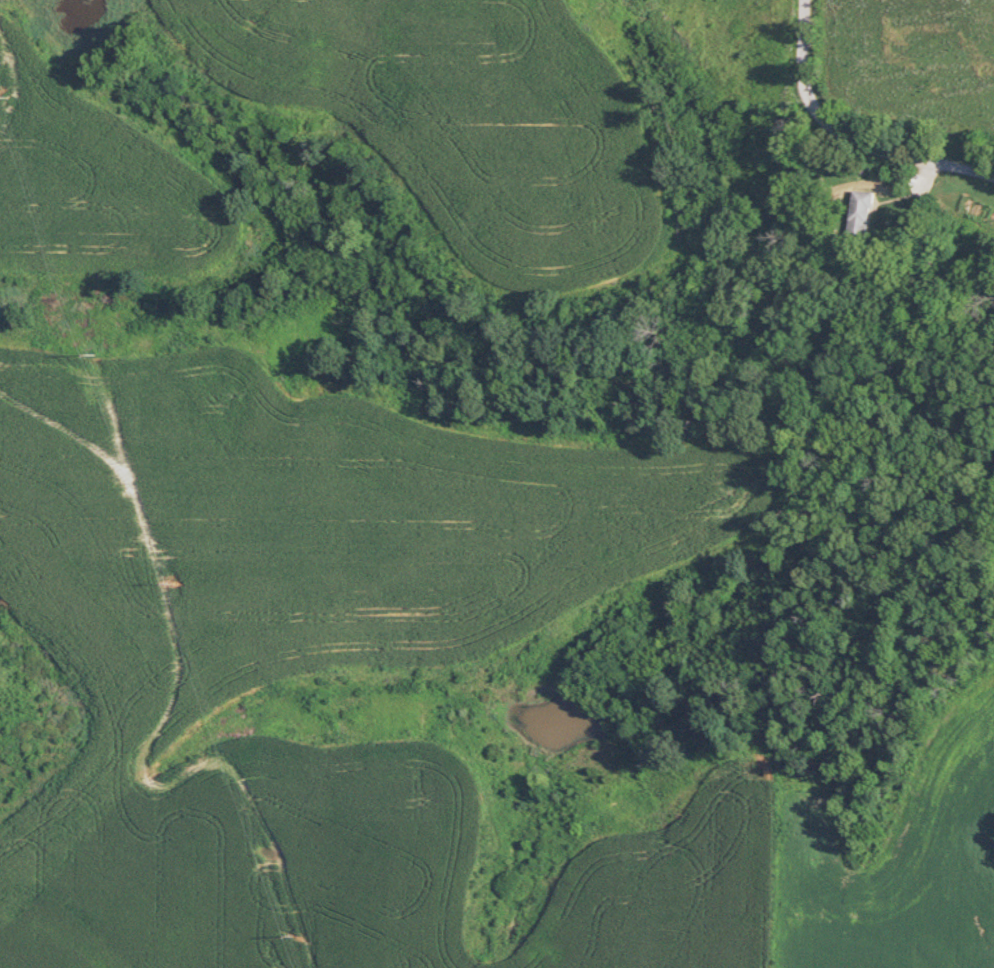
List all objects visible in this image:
road: (846, 133)
building: (860, 205)

